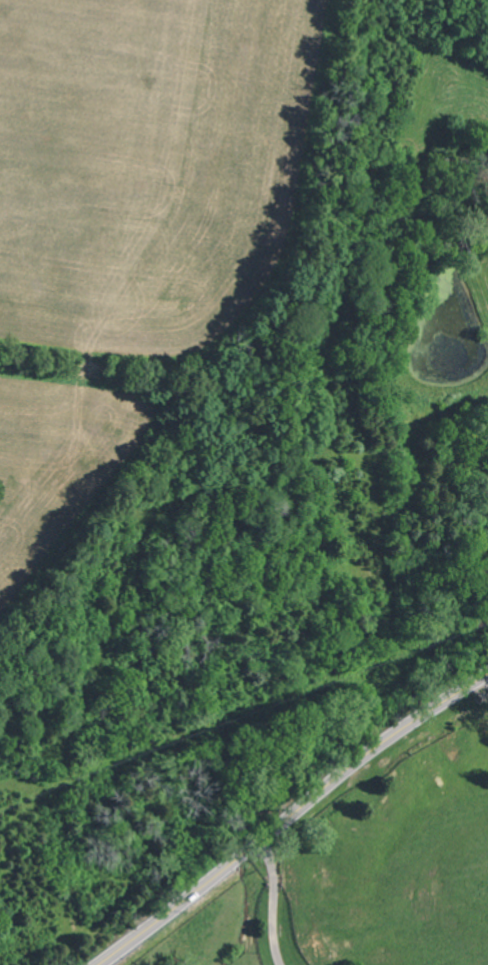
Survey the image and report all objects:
road: (487, 675)
road: (290, 814)
road: (273, 901)

